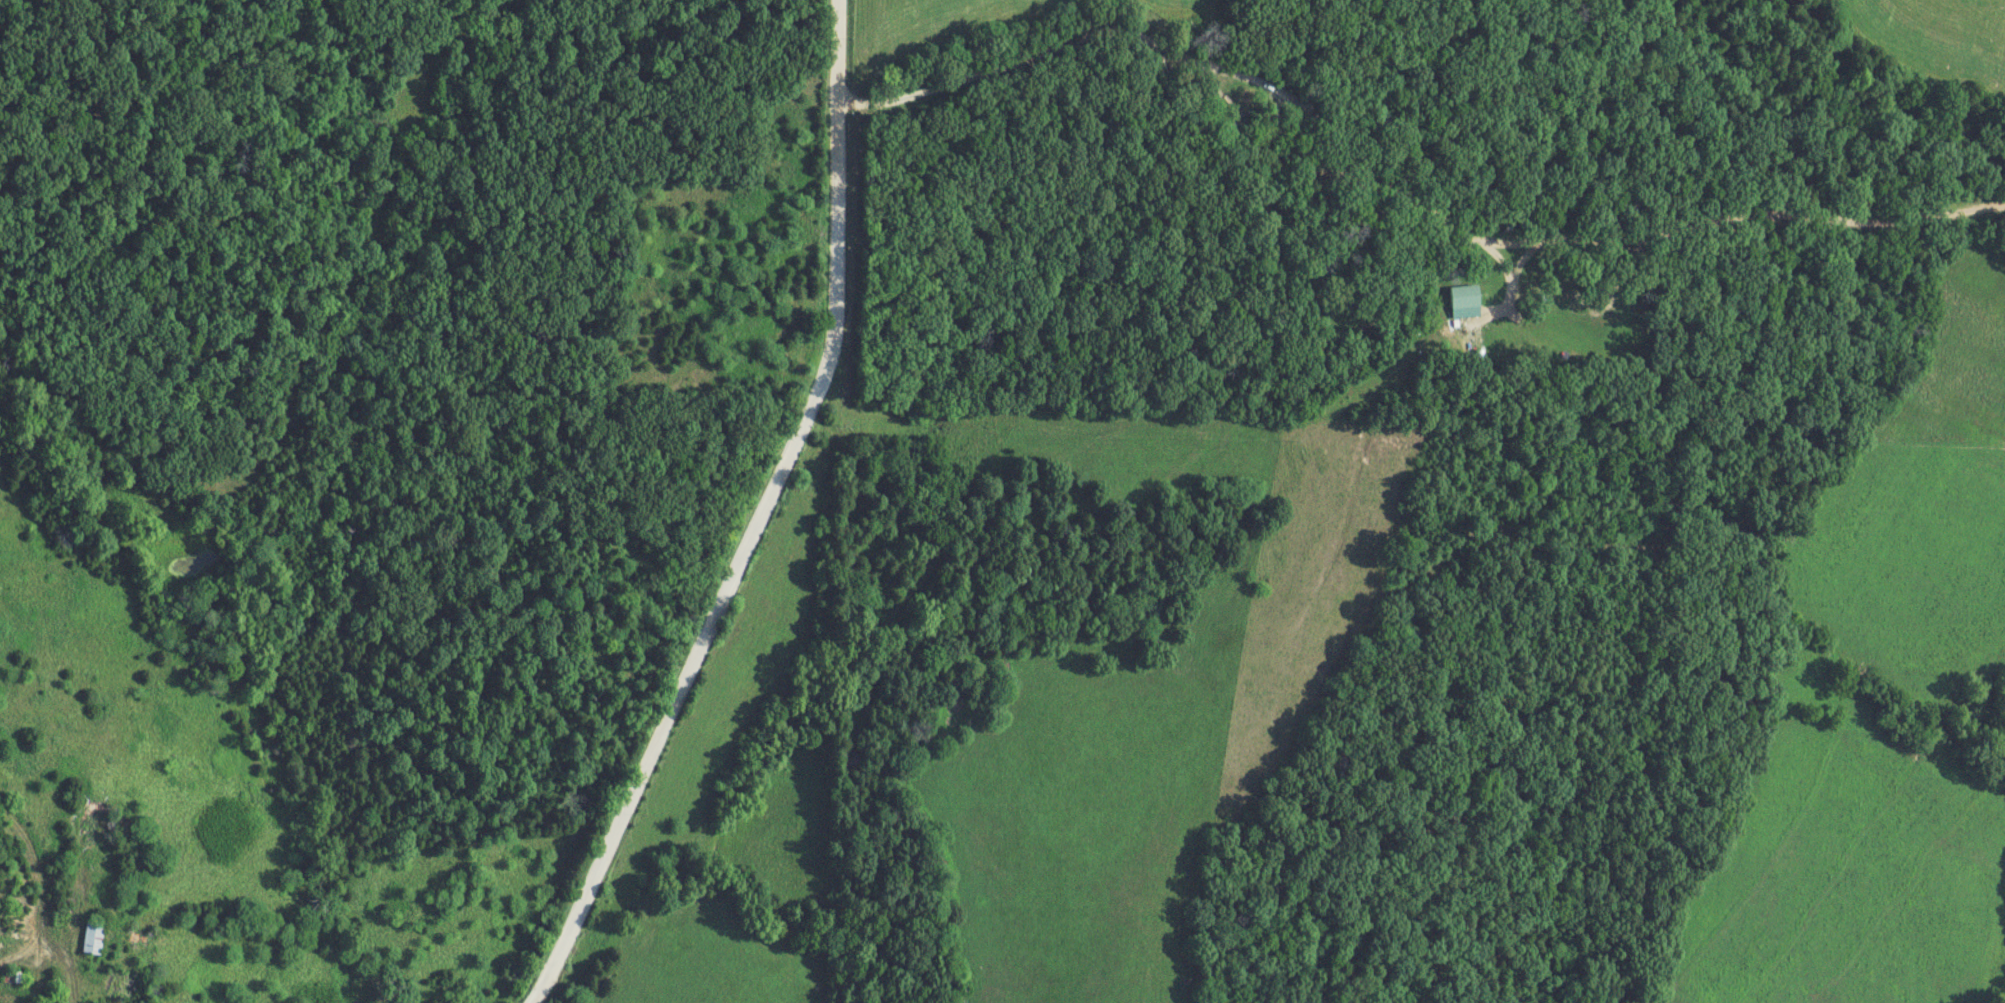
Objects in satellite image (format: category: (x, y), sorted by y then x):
road: (1399, 194)
building: (1465, 302)
road: (757, 519)
building: (95, 825)
road: (35, 907)
building: (93, 937)
building: (141, 939)
building: (14, 977)

